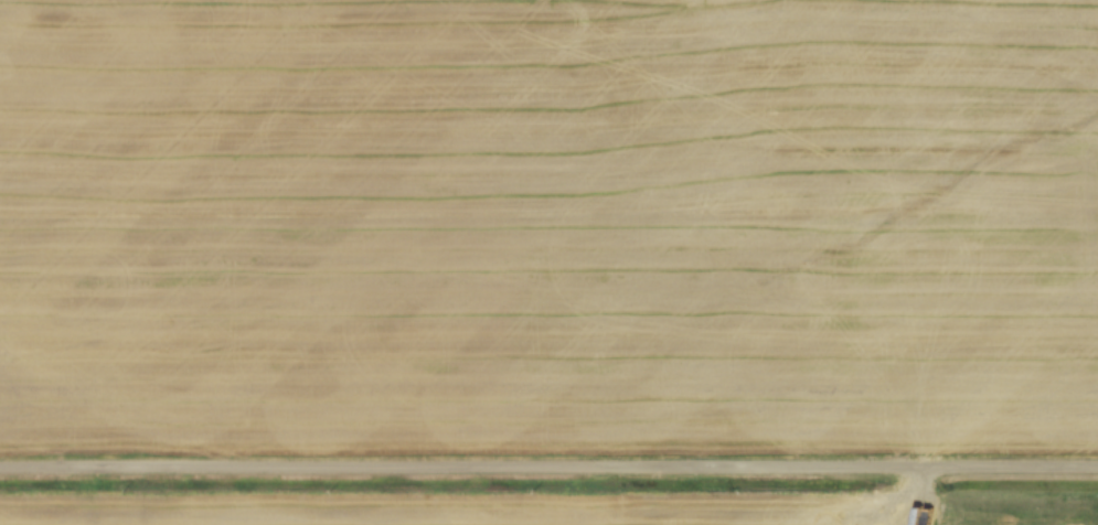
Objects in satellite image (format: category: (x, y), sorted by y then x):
road: (548, 469)

